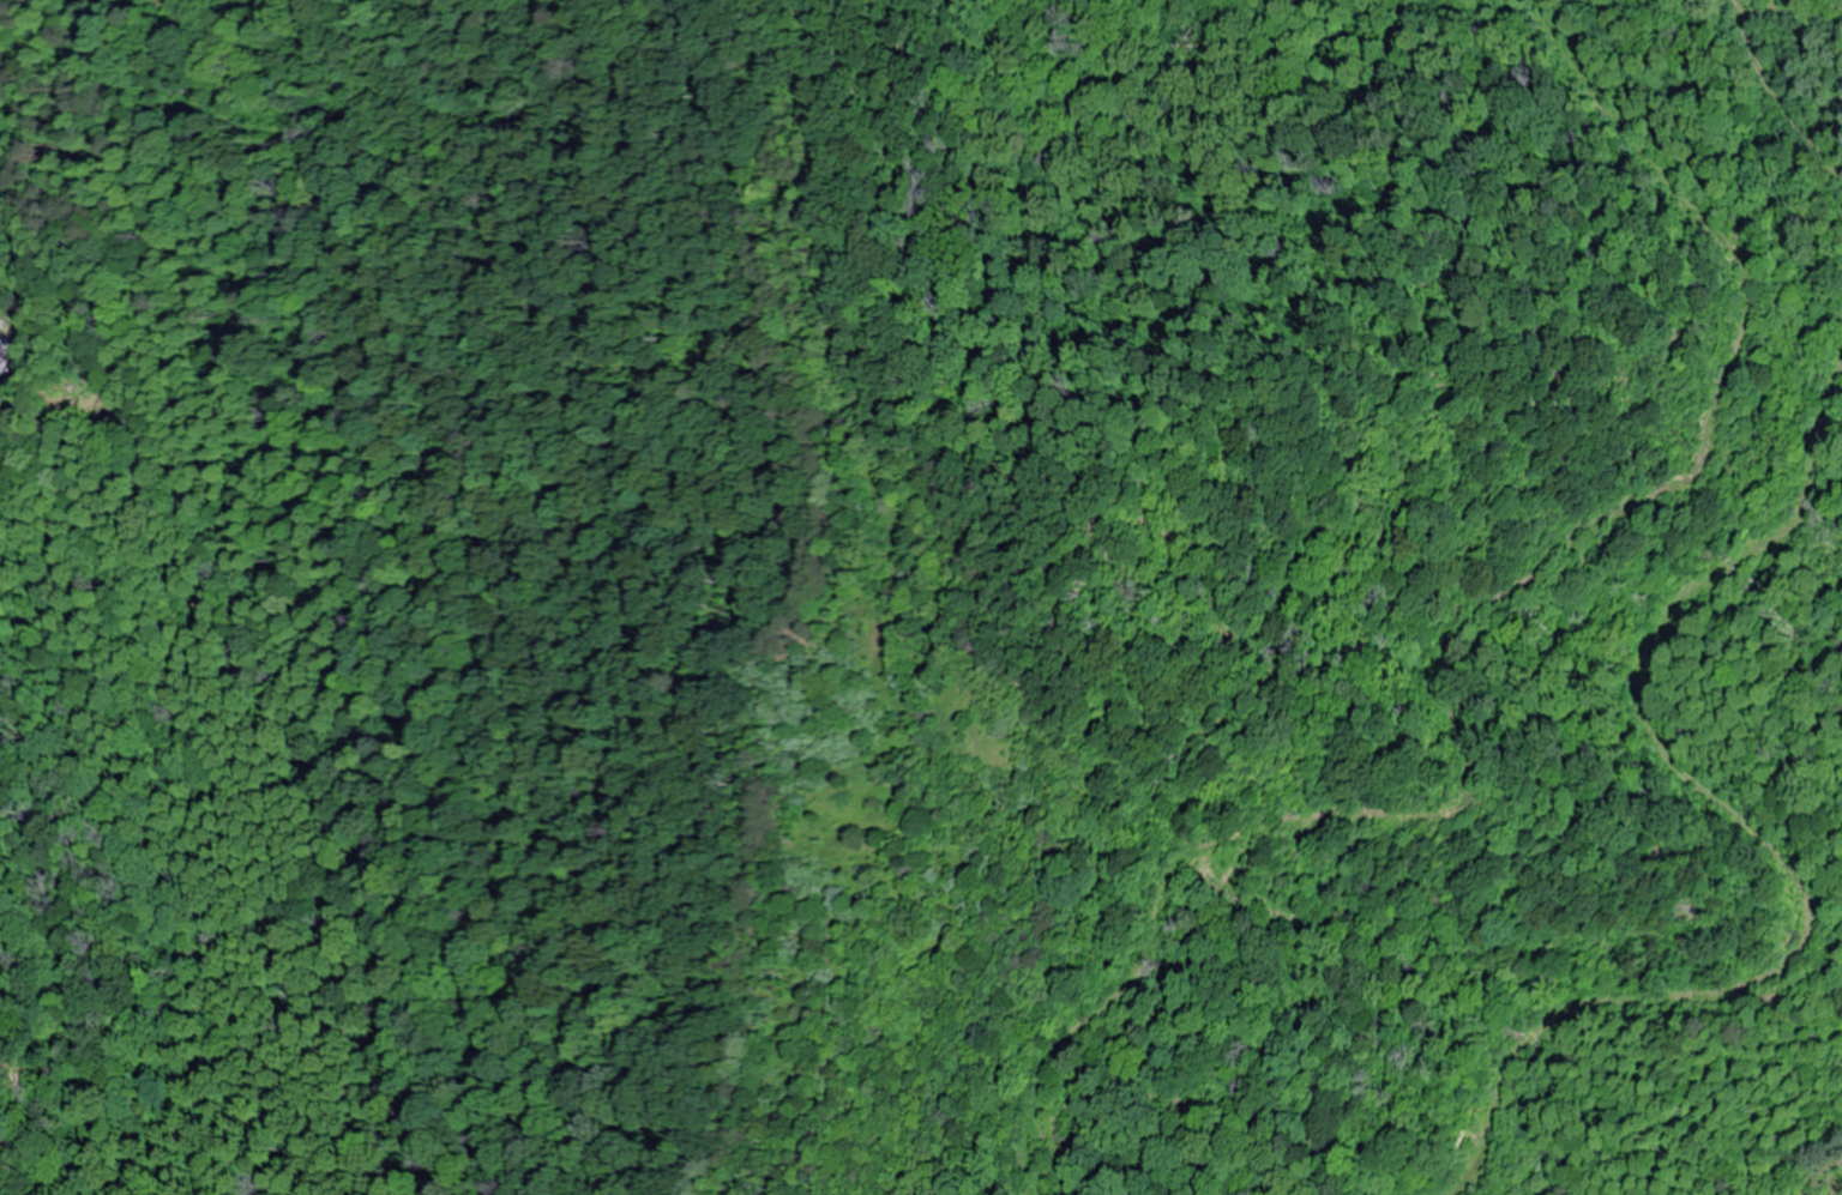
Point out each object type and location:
road: (971, 563)

